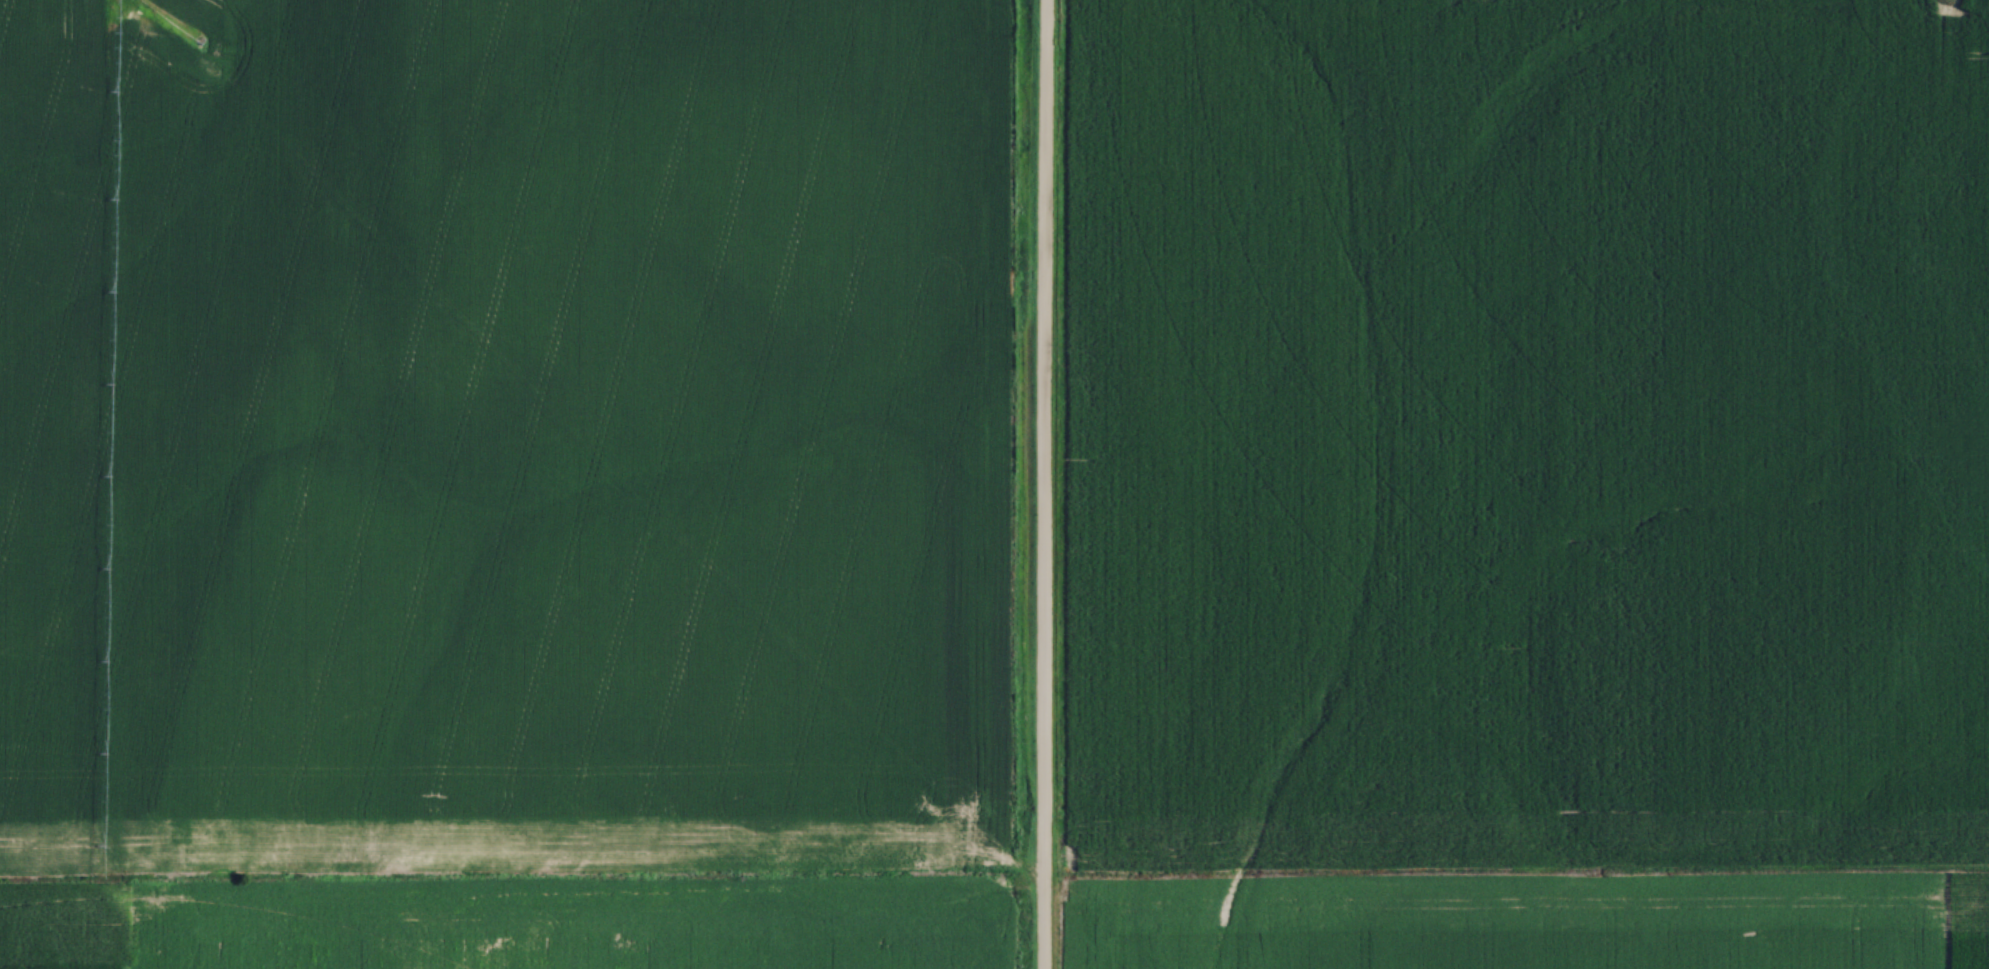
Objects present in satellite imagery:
road: (1042, 484)

